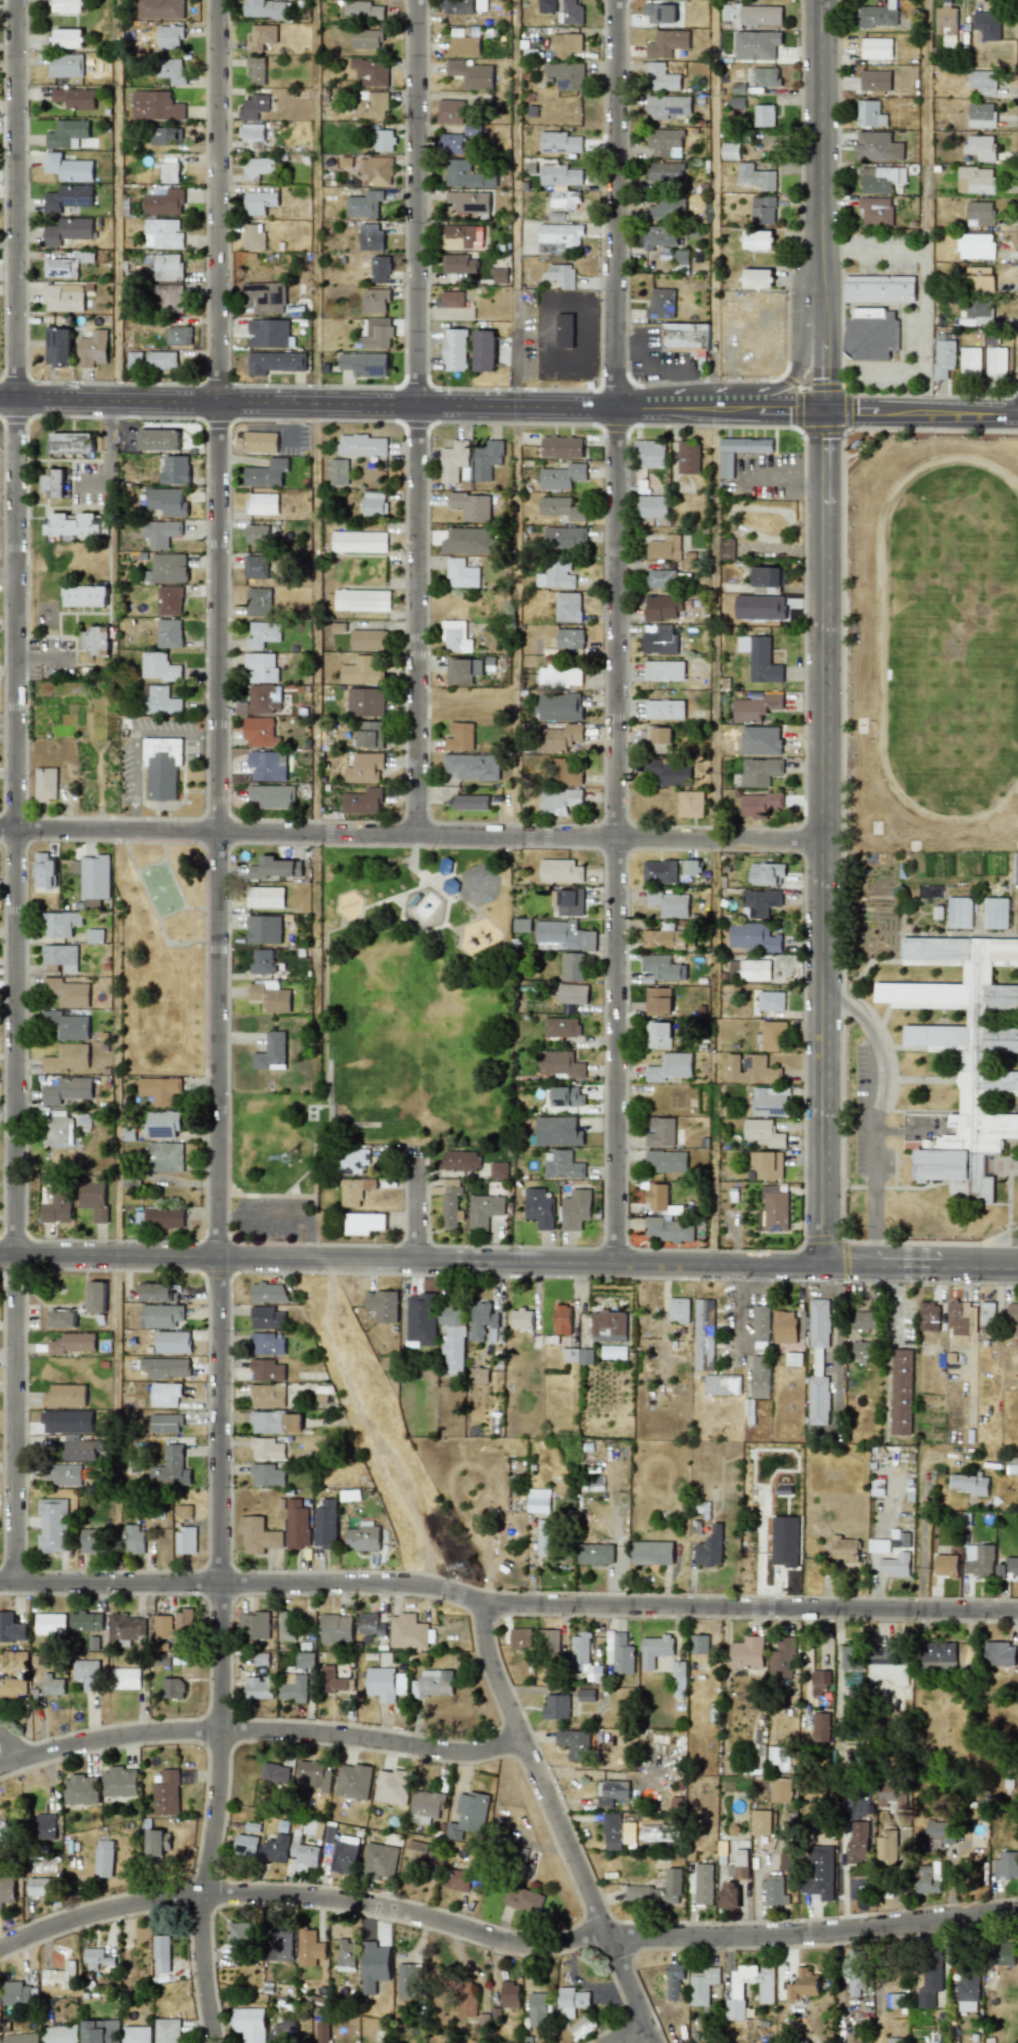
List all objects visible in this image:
building: (547, 5)
building: (68, 6)
building: (457, 6)
building: (161, 9)
building: (267, 9)
building: (363, 11)
building: (751, 15)
building: (876, 15)
building: (946, 20)
building: (987, 25)
building: (170, 36)
building: (261, 37)
building: (68, 38)
building: (366, 39)
building: (666, 44)
building: (565, 45)
building: (756, 45)
building: (876, 48)
building: (66, 65)
building: (171, 70)
building: (256, 70)
building: (371, 71)
building: (471, 74)
building: (566, 75)
building: (764, 76)
building: (660, 77)
building: (875, 80)
building: (982, 81)
building: (74, 98)
building: (371, 104)
building: (156, 106)
building: (255, 106)
building: (667, 106)
building: (451, 111)
building: (869, 114)
building: (764, 115)
building: (981, 115)
building: (69, 135)
building: (253, 135)
building: (166, 136)
building: (384, 140)
building: (559, 142)
building: (664, 142)
building: (449, 143)
building: (877, 147)
building: (980, 147)
building: (730, 151)
building: (258, 167)
building: (68, 168)
building: (376, 170)
building: (168, 172)
building: (665, 172)
building: (466, 175)
building: (559, 175)
building: (755, 176)
building: (880, 179)
building: (975, 180)
building: (68, 198)
building: (564, 199)
road: (118, 200)
building: (163, 201)
building: (468, 201)
building: (260, 202)
road: (518, 203)
building: (364, 204)
road: (823, 206)
road: (924, 206)
building: (666, 208)
building: (763, 210)
building: (876, 210)
building: (980, 213)
building: (67, 230)
building: (163, 234)
building: (657, 236)
building: (371, 237)
building: (462, 237)
building: (558, 237)
building: (253, 238)
building: (757, 240)
building: (975, 246)
road: (882, 252)
road: (832, 253)
building: (681, 260)
building: (458, 264)
building: (168, 267)
building: (60, 268)
building: (379, 269)
building: (500, 275)
building: (562, 275)
building: (979, 277)
building: (757, 278)
building: (879, 289)
building: (63, 297)
building: (169, 297)
building: (264, 297)
building: (450, 299)
building: (376, 300)
building: (661, 304)
building: (979, 308)
building: (564, 330)
building: (269, 333)
building: (378, 333)
building: (871, 334)
building: (178, 336)
building: (685, 337)
road: (630, 346)
building: (57, 347)
building: (92, 349)
building: (455, 349)
building: (484, 351)
road: (643, 356)
building: (944, 358)
building: (134, 360)
building: (162, 360)
building: (970, 361)
building: (276, 362)
building: (996, 362)
building: (364, 364)
road: (664, 367)
road: (890, 373)
road: (685, 388)
road: (412, 404)
road: (921, 413)
road: (290, 415)
road: (417, 417)
road: (269, 427)
road: (290, 434)
building: (158, 439)
building: (261, 442)
building: (71, 443)
building: (362, 445)
building: (561, 447)
building: (739, 451)
building: (650, 453)
road: (106, 457)
building: (688, 457)
building: (487, 459)
building: (453, 460)
building: (175, 470)
road: (791, 471)
building: (338, 472)
building: (266, 473)
building: (562, 476)
building: (53, 483)
building: (166, 501)
building: (374, 502)
building: (262, 504)
building: (472, 506)
building: (652, 506)
building: (561, 508)
building: (74, 525)
building: (160, 533)
building: (256, 535)
building: (565, 537)
building: (359, 541)
building: (467, 541)
building: (664, 547)
road: (317, 548)
building: (726, 549)
building: (166, 566)
building: (255, 567)
building: (462, 574)
building: (555, 575)
building: (662, 575)
building: (767, 579)
building: (85, 596)
building: (168, 598)
building: (258, 599)
building: (362, 599)
building: (568, 607)
building: (662, 608)
road: (517, 621)
building: (263, 632)
road: (616, 632)
road: (715, 632)
building: (169, 633)
building: (455, 636)
building: (570, 638)
building: (368, 640)
building: (659, 640)
building: (95, 641)
building: (759, 659)
building: (159, 667)
building: (261, 667)
building: (362, 670)
building: (462, 670)
building: (664, 670)
building: (560, 675)
power tower: (93, 691)
building: (159, 700)
building: (261, 700)
building: (365, 702)
building: (560, 707)
building: (756, 707)
building: (664, 709)
building: (259, 732)
road: (209, 733)
building: (370, 734)
building: (658, 735)
building: (460, 737)
building: (559, 738)
road: (133, 740)
building: (267, 765)
building: (162, 766)
building: (472, 766)
building: (364, 768)
building: (760, 771)
building: (563, 772)
building: (667, 773)
building: (46, 784)
road: (16, 790)
building: (272, 796)
building: (363, 801)
building: (559, 801)
building: (470, 802)
building: (690, 804)
building: (759, 804)
road: (132, 823)
road: (413, 833)
road: (826, 838)
building: (692, 867)
building: (274, 868)
building: (43, 870)
building: (560, 871)
building: (659, 872)
building: (767, 874)
building: (93, 876)
building: (448, 886)
building: (265, 897)
building: (570, 902)
building: (760, 902)
building: (669, 904)
building: (960, 912)
building: (996, 913)
building: (60, 923)
building: (521, 925)
building: (264, 929)
building: (94, 935)
building: (562, 936)
building: (754, 938)
building: (60, 958)
building: (262, 961)
building: (572, 966)
building: (663, 967)
building: (749, 970)
road: (516, 990)
building: (67, 992)
building: (572, 994)
building: (269, 996)
building: (658, 1000)
building: (771, 1001)
road: (850, 1009)
road: (218, 1022)
building: (68, 1025)
building: (562, 1027)
park: (390, 1029)
building: (657, 1035)
building: (770, 1036)
building: (963, 1046)
building: (271, 1052)
building: (66, 1058)
building: (559, 1065)
building: (670, 1067)
building: (750, 1069)
road: (118, 1081)
building: (160, 1089)
building: (66, 1090)
building: (566, 1097)
building: (770, 1101)
road: (877, 1106)
building: (163, 1123)
parking lot: (867, 1130)
building: (557, 1131)
building: (660, 1132)
building: (764, 1132)
power tower: (287, 1140)
building: (164, 1157)
building: (352, 1160)
building: (460, 1160)
building: (666, 1161)
building: (562, 1165)
building: (767, 1165)
building: (498, 1170)
building: (355, 1190)
building: (657, 1196)
building: (94, 1197)
building: (449, 1202)
building: (58, 1203)
road: (415, 1204)
building: (539, 1208)
building: (576, 1209)
building: (773, 1210)
building: (483, 1211)
building: (164, 1216)
road: (270, 1218)
road: (226, 1219)
building: (364, 1223)
road: (870, 1226)
building: (668, 1229)
road: (308, 1240)
road: (509, 1263)
building: (156, 1292)
building: (267, 1292)
building: (96, 1296)
road: (894, 1300)
building: (382, 1305)
building: (678, 1309)
building: (161, 1315)
road: (743, 1315)
building: (928, 1315)
building: (987, 1316)
building: (62, 1318)
building: (267, 1318)
building: (421, 1318)
building: (959, 1318)
building: (522, 1319)
building: (563, 1319)
building: (482, 1320)
building: (865, 1320)
building: (1012, 1320)
building: (760, 1323)
building: (609, 1326)
building: (784, 1327)
building: (703, 1334)
building: (453, 1338)
road: (837, 1338)
building: (173, 1342)
building: (72, 1343)
building: (266, 1344)
building: (860, 1351)
building: (585, 1356)
building: (793, 1358)
building: (818, 1361)
building: (166, 1367)
building: (266, 1370)
building: (479, 1375)
building: (760, 1376)
building: (722, 1384)
building: (901, 1392)
building: (165, 1394)
building: (267, 1395)
building: (65, 1396)
road: (118, 1421)
building: (67, 1422)
building: (276, 1422)
building: (165, 1423)
building: (80, 1449)
building: (266, 1449)
building: (171, 1468)
building: (63, 1474)
building: (266, 1475)
building: (971, 1484)
building: (877, 1487)
building: (538, 1500)
building: (184, 1512)
building: (325, 1523)
building: (296, 1524)
building: (52, 1525)
building: (258, 1536)
building: (545, 1537)
building: (132, 1538)
building: (361, 1538)
building: (185, 1540)
building: (92, 1541)
building: (784, 1541)
building: (878, 1546)
building: (710, 1547)
building: (845, 1548)
building: (652, 1552)
building: (595, 1554)
building: (979, 1560)
building: (895, 1565)
building: (946, 1565)
power tower: (474, 1566)
building: (1008, 1569)
road: (8, 1582)
road: (515, 1601)
building: (86, 1621)
building: (50, 1623)
building: (174, 1624)
building: (370, 1624)
building: (253, 1625)
building: (286, 1626)
building: (11, 1628)
building: (127, 1628)
building: (336, 1628)
building: (407, 1631)
building: (521, 1638)
building: (549, 1641)
building: (699, 1644)
building: (655, 1650)
building: (580, 1652)
building: (747, 1653)
building: (938, 1653)
building: (999, 1653)
building: (622, 1654)
building: (851, 1654)
building: (783, 1659)
building: (305, 1660)
building: (886, 1665)
building: (87, 1674)
building: (125, 1678)
building: (678, 1679)
building: (332, 1681)
building: (819, 1681)
building: (401, 1683)
building: (433, 1683)
building: (381, 1684)
building: (53, 1685)
building: (13, 1686)
building: (259, 1687)
building: (169, 1688)
building: (295, 1689)
building: (586, 1694)
building: (556, 1706)
building: (820, 1727)
road: (262, 1730)
road: (13, 1743)
building: (574, 1744)
building: (275, 1773)
building: (315, 1774)
building: (353, 1781)
building: (119, 1782)
building: (392, 1787)
building: (80, 1790)
building: (782, 1790)
building: (611, 1791)
building: (167, 1793)
building: (892, 1795)
building: (427, 1803)
building: (468, 1815)
road: (552, 1821)
building: (760, 1823)
building: (41, 1826)
building: (940, 1831)
building: (617, 1832)
building: (657, 1832)
building: (858, 1843)
building: (246, 1845)
building: (887, 1846)
building: (157, 1847)
building: (275, 1848)
building: (419, 1850)
building: (303, 1852)
building: (345, 1854)
building: (104, 1858)
road: (845, 1860)
building: (380, 1861)
building: (1006, 1865)
building: (819, 1871)
road: (757, 1873)
building: (457, 1879)
building: (928, 1880)
building: (704, 1884)
building: (41, 1886)
building: (6, 1890)
building: (658, 1890)
building: (774, 1891)
road: (299, 1895)
building: (729, 1896)
building: (523, 1899)
road: (811, 1934)
building: (238, 1938)
building: (282, 1945)
building: (309, 1948)
building: (346, 1952)
building: (161, 1954)
building: (97, 1958)
building: (1003, 1959)
building: (855, 1971)
building: (61, 1975)
building: (931, 1979)
building: (674, 1980)
building: (407, 1982)
building: (702, 1985)
building: (803, 1985)
building: (767, 1990)
building: (18, 1993)
building: (510, 1994)
building: (897, 2001)
building: (571, 2002)
road: (352, 2008)
building: (537, 2009)
road: (618, 2023)
building: (249, 2024)
building: (101, 2031)
building: (167, 2031)
building: (322, 2032)
building: (61, 2034)
building: (136, 2034)
building: (21, 2038)
power tower: (678, 2042)

